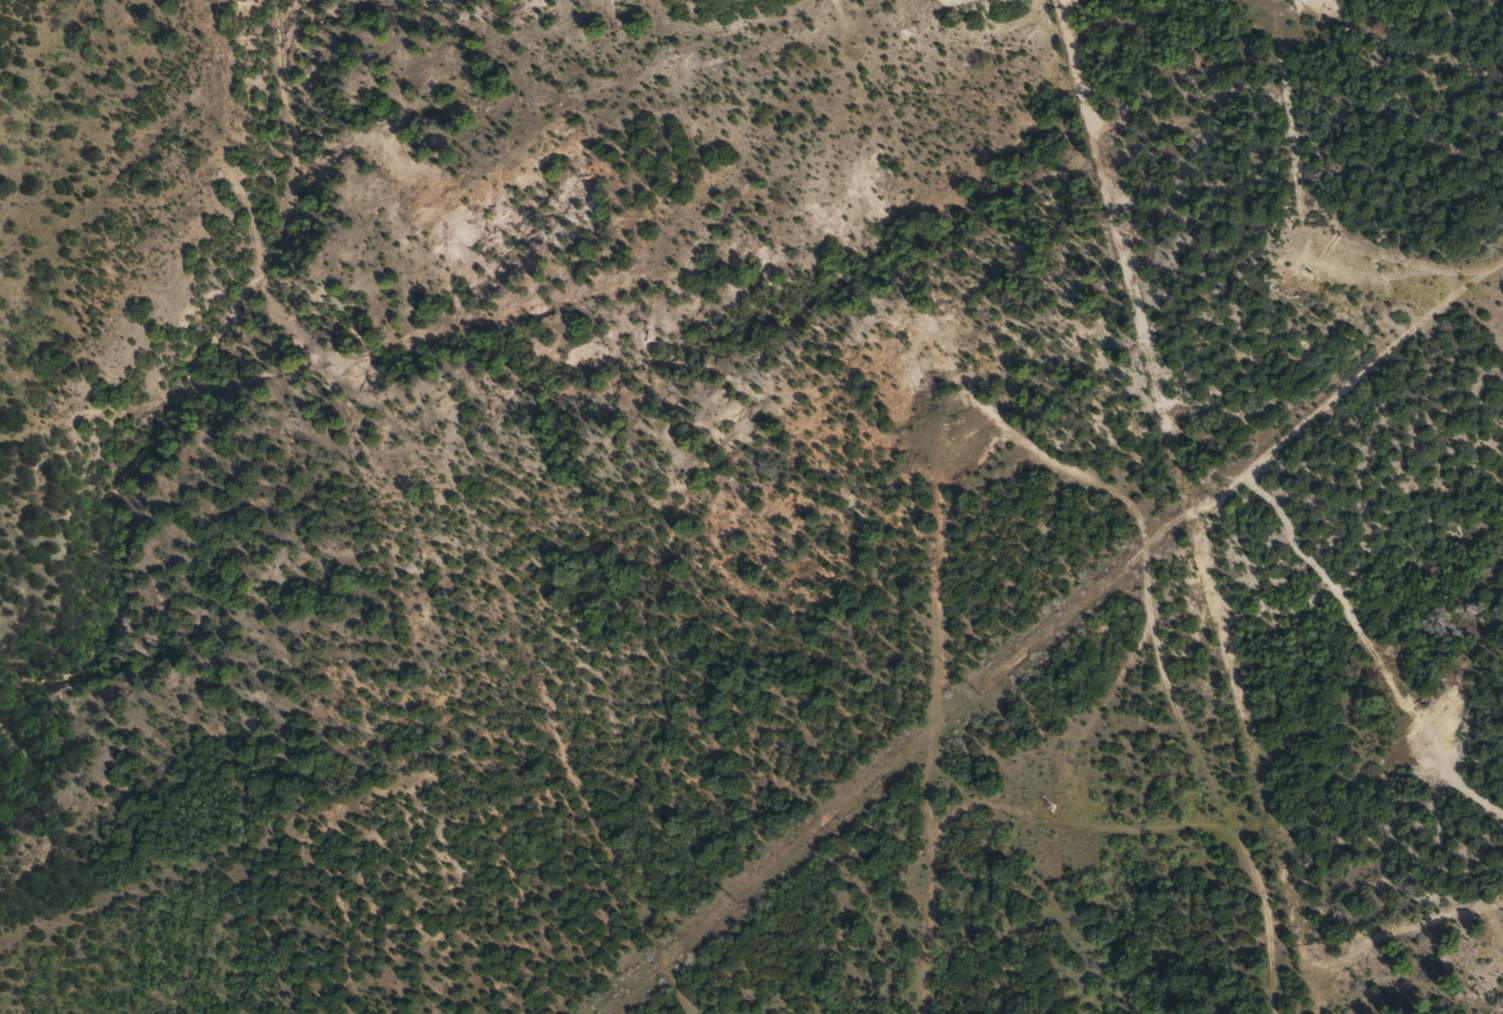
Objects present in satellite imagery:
power tower: (1497, 248)
power tower: (1221, 483)
power tower: (979, 692)
power tower: (735, 900)

